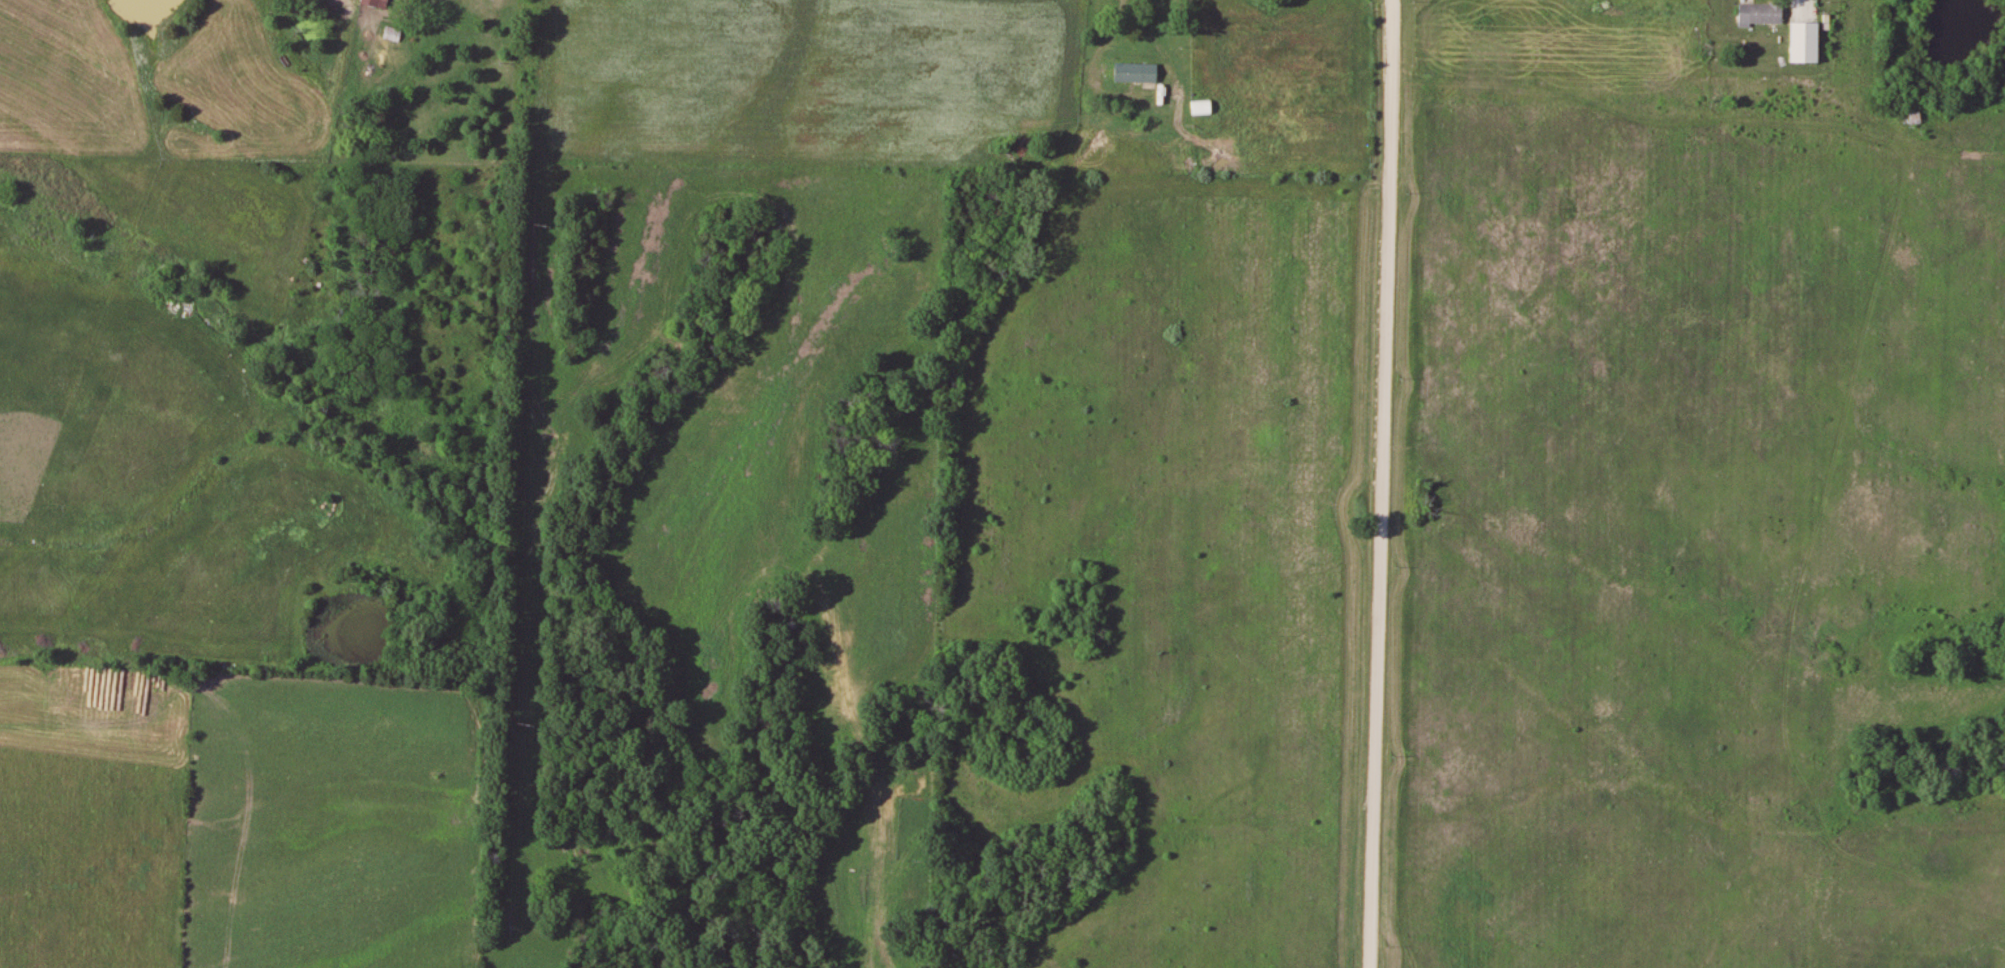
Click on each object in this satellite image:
building: (377, 3)
building: (1762, 14)
building: (1136, 73)
building: (1202, 108)
road: (1383, 484)

